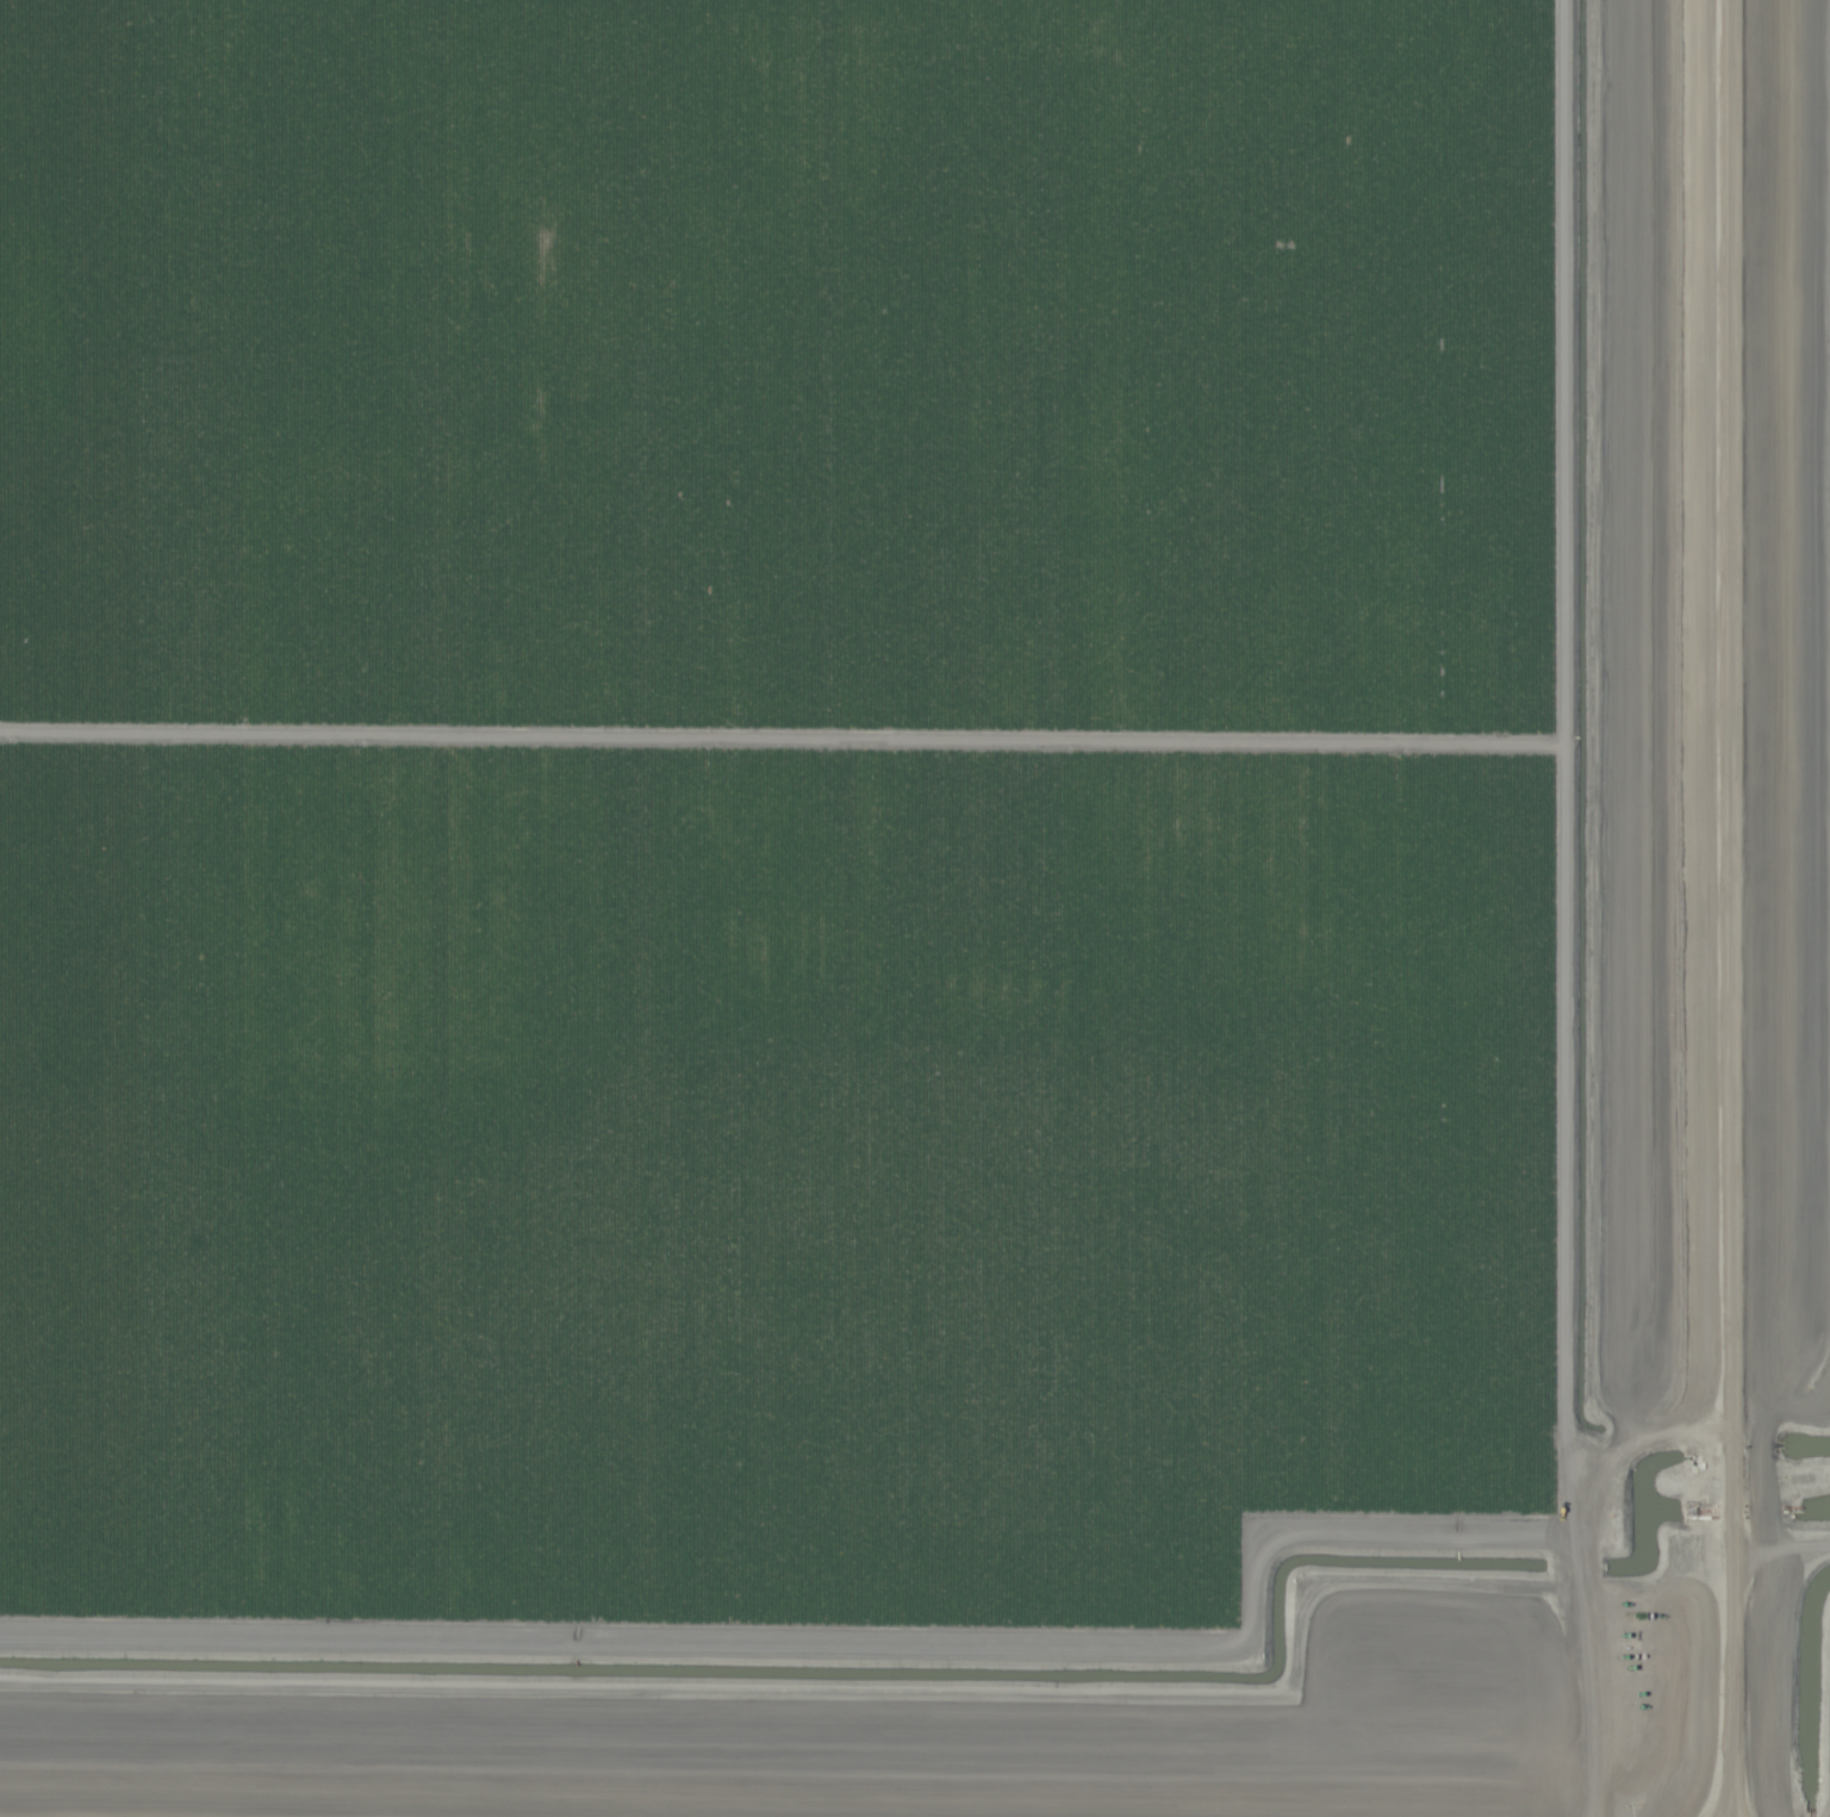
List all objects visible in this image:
crop: (915, 908)
road: (1713, 908)

